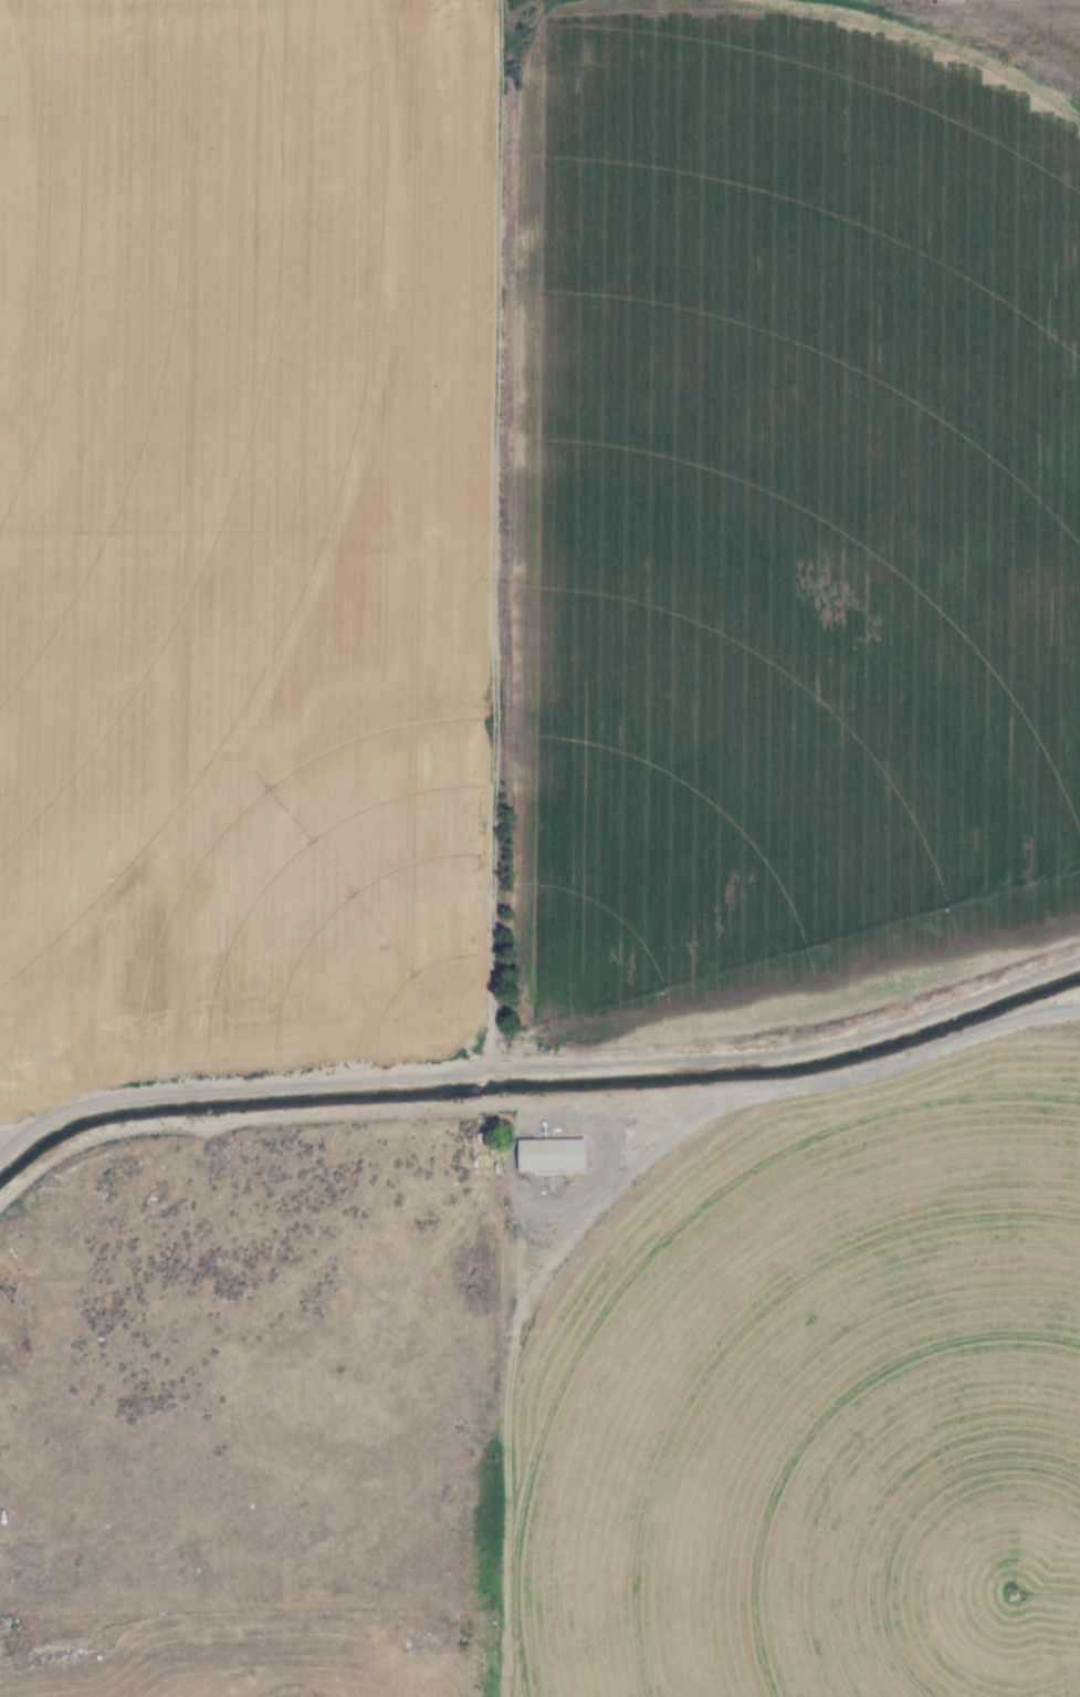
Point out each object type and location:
building: (549, 1156)

